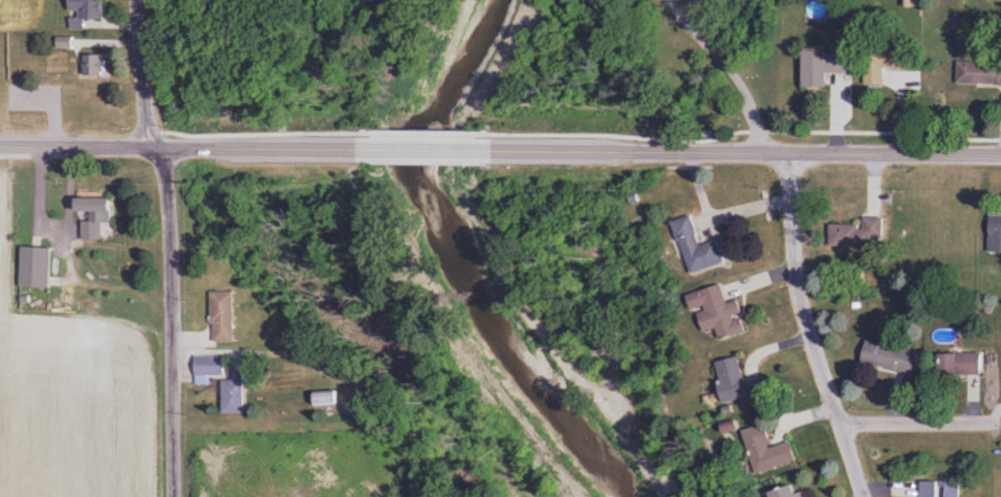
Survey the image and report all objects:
building: (79, 12)
building: (883, 59)
building: (89, 65)
building: (818, 66)
road: (724, 69)
building: (977, 73)
road: (500, 151)
road: (33, 203)
building: (88, 215)
building: (993, 234)
building: (847, 235)
road: (171, 246)
building: (693, 247)
building: (31, 267)
building: (713, 312)
building: (217, 317)
road: (806, 329)
building: (885, 357)
building: (956, 364)
building: (203, 369)
building: (730, 382)
building: (229, 394)
building: (319, 399)
road: (917, 424)
building: (763, 450)
building: (937, 489)
building: (783, 492)

